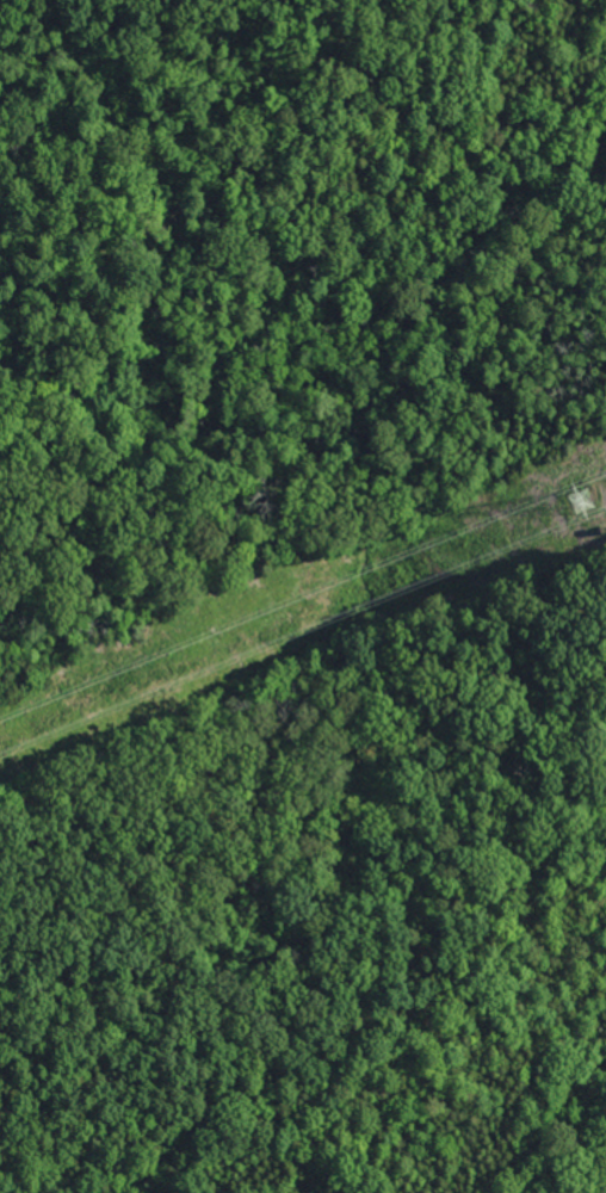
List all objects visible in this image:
power tower: (582, 501)

